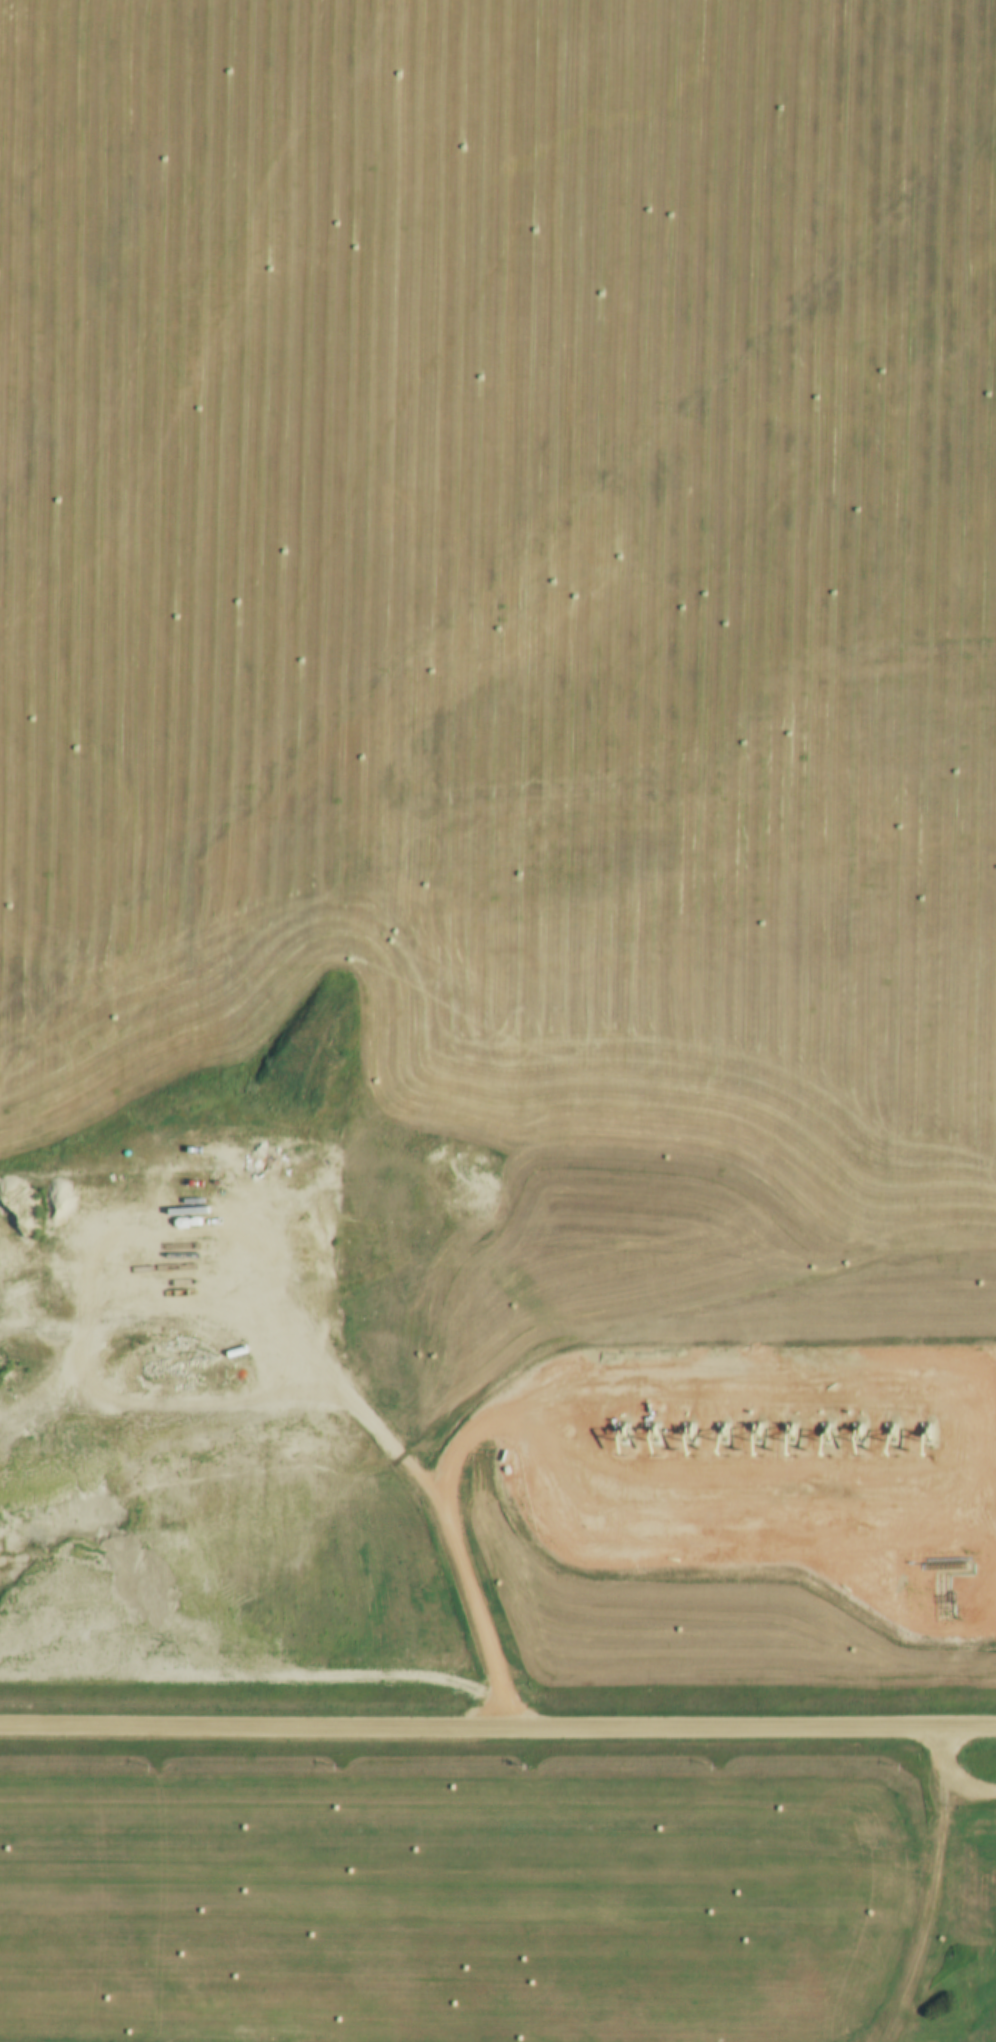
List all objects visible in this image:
quarry: (175, 1411)
road: (497, 1731)

